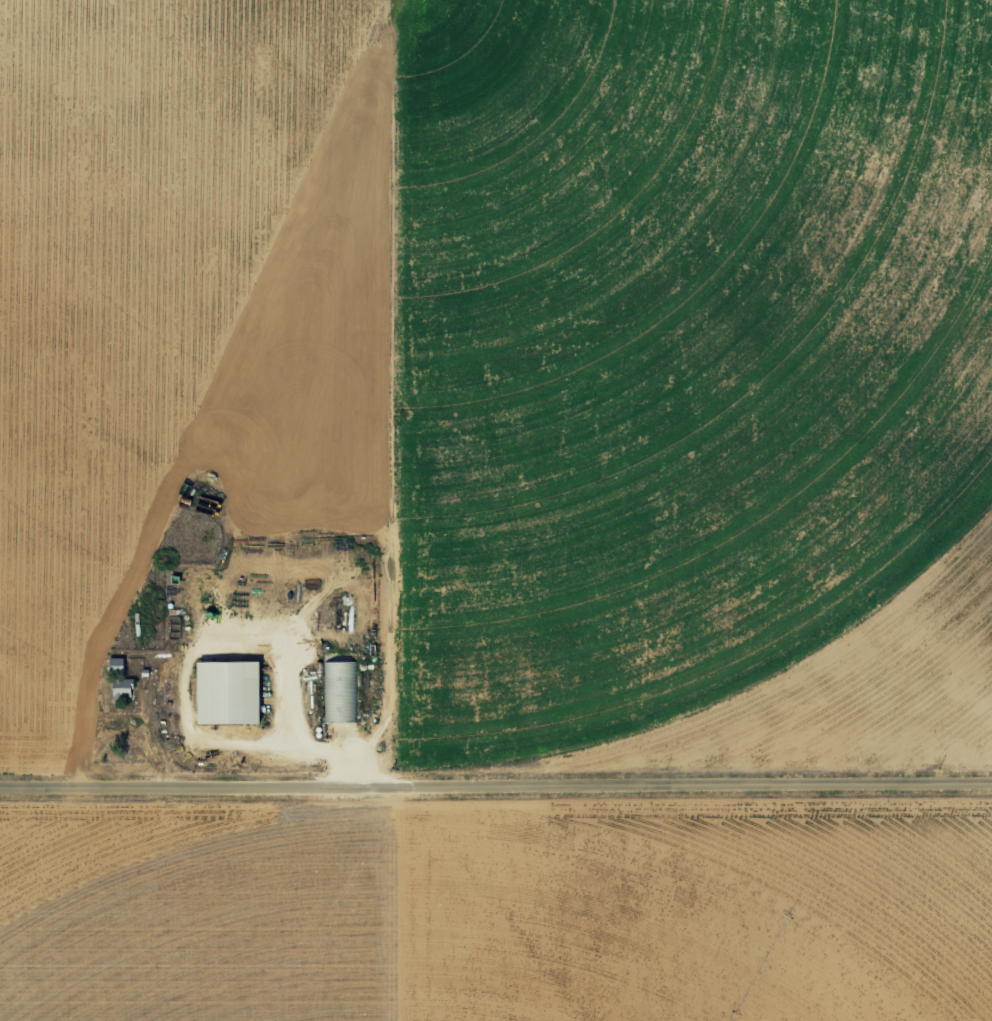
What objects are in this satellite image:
building: (231, 693)
road: (496, 786)

